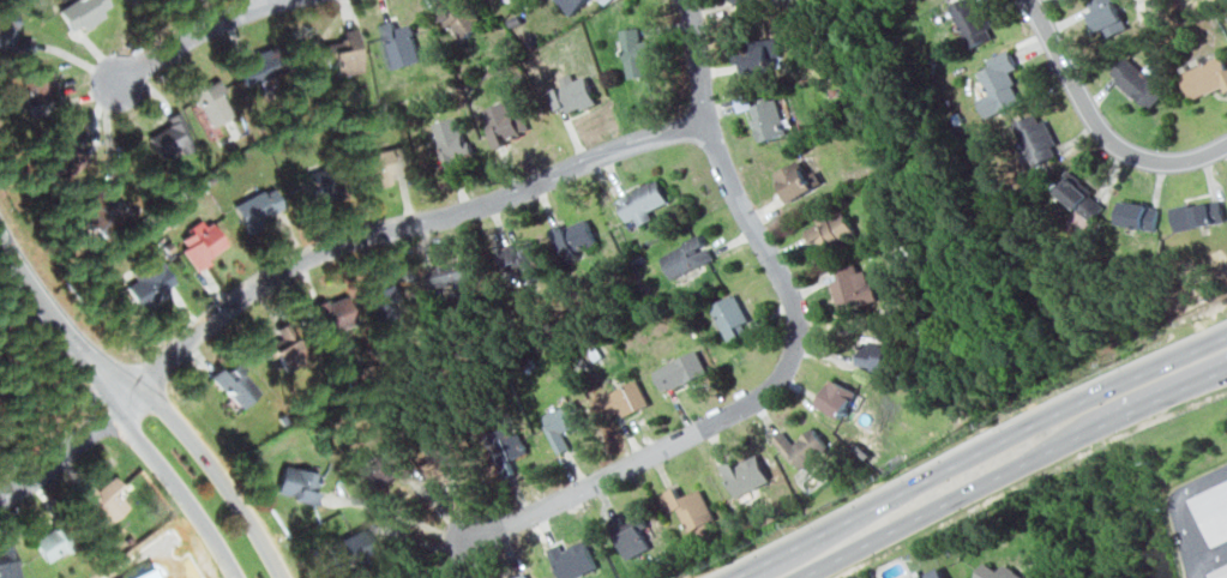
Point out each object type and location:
building: (740, 1)
building: (571, 4)
building: (78, 12)
building: (458, 14)
building: (970, 20)
building: (1103, 22)
road: (198, 30)
building: (11, 32)
building: (399, 38)
building: (631, 44)
building: (339, 53)
building: (750, 54)
building: (257, 64)
building: (1207, 72)
building: (1000, 82)
building: (1138, 84)
building: (36, 89)
building: (569, 96)
building: (209, 102)
building: (768, 118)
building: (503, 120)
road: (1097, 125)
building: (164, 137)
building: (450, 139)
building: (61, 142)
building: (1036, 143)
building: (62, 162)
building: (380, 167)
building: (793, 179)
building: (324, 182)
building: (636, 199)
building: (1081, 200)
building: (258, 204)
building: (101, 205)
building: (1196, 210)
building: (1133, 215)
road: (407, 225)
building: (822, 228)
building: (575, 235)
building: (197, 246)
building: (681, 253)
building: (522, 259)
building: (441, 275)
building: (148, 279)
building: (850, 289)
building: (378, 293)
road: (43, 295)
building: (335, 311)
building: (726, 311)
building: (866, 351)
road: (788, 356)
building: (284, 357)
road: (109, 367)
building: (676, 368)
building: (236, 391)
building: (620, 397)
building: (832, 398)
building: (558, 426)
road: (957, 444)
road: (72, 445)
building: (795, 448)
building: (504, 452)
road: (974, 452)
road: (1008, 469)
building: (375, 475)
building: (740, 476)
building: (291, 486)
building: (112, 505)
building: (681, 508)
building: (1209, 511)
building: (622, 537)
building: (46, 547)
building: (349, 547)
road: (146, 553)
building: (7, 560)
building: (573, 560)
building: (998, 570)
building: (1217, 571)
building: (516, 573)
building: (925, 573)
building: (146, 574)

